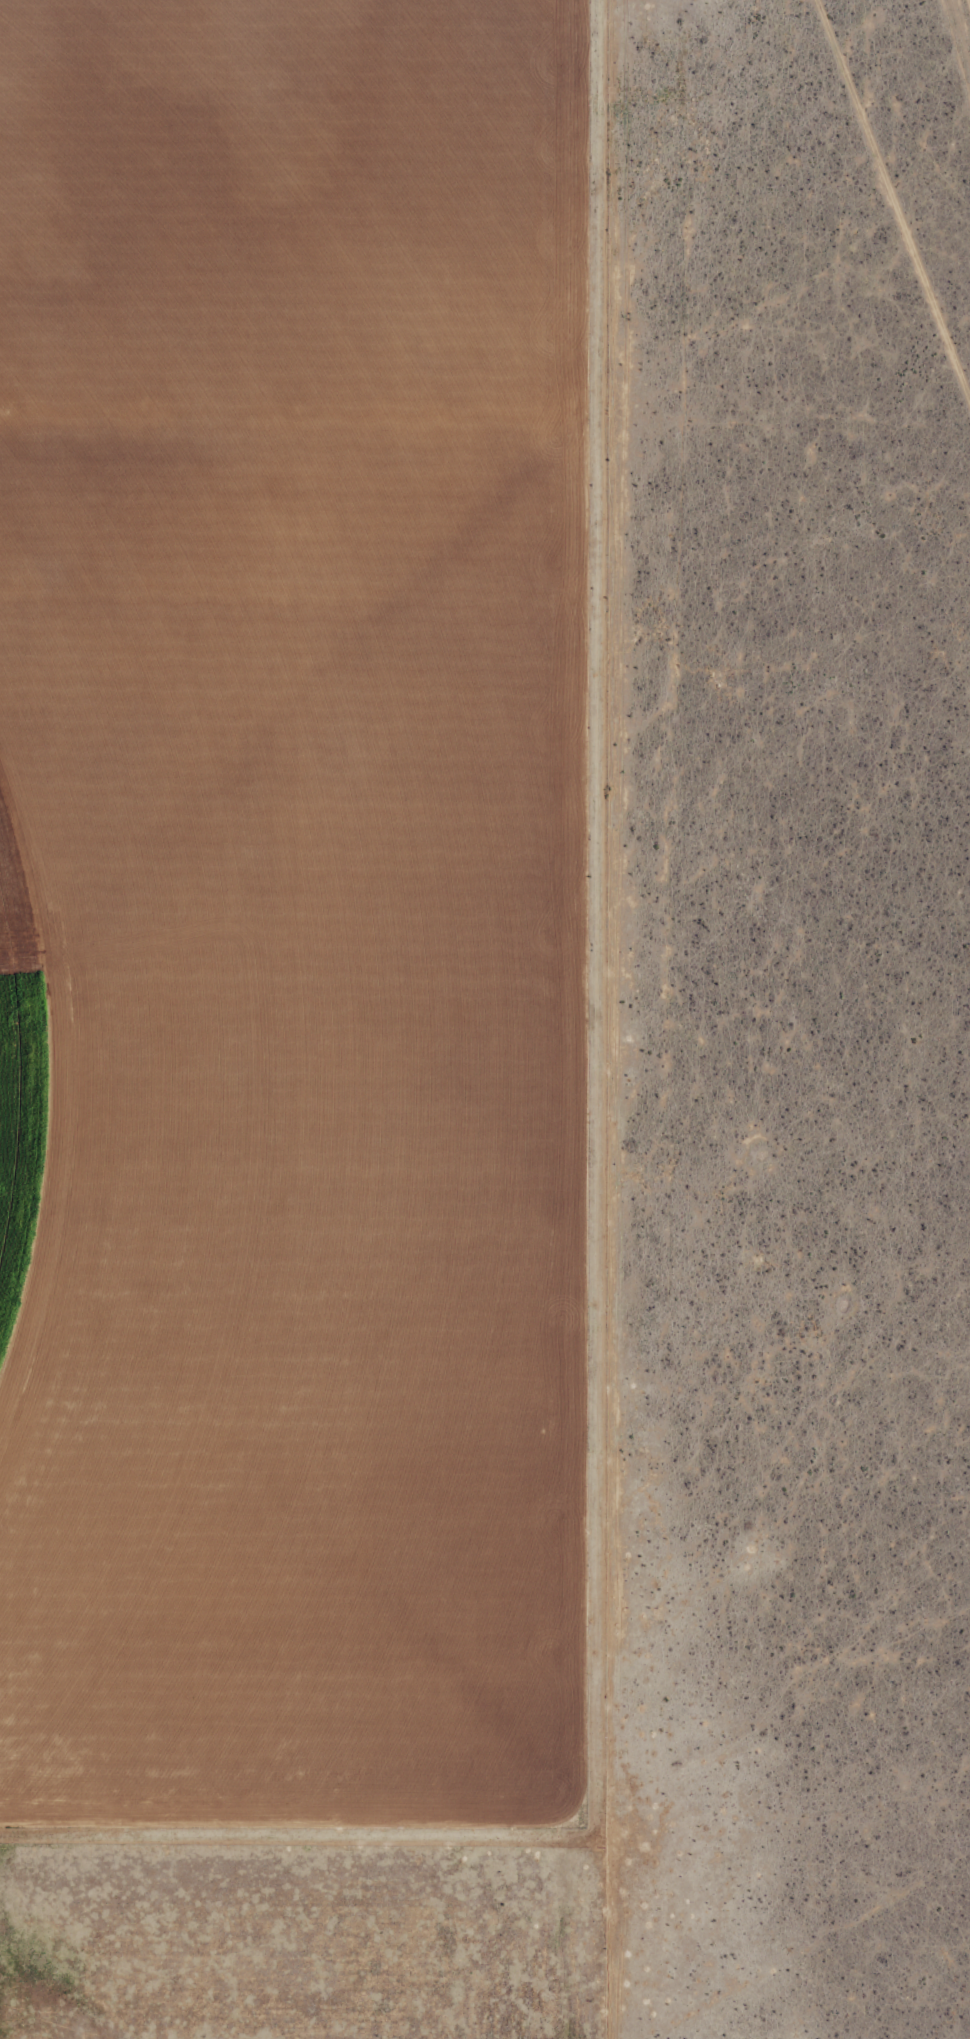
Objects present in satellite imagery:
road: (306, 417)
road: (610, 1019)

